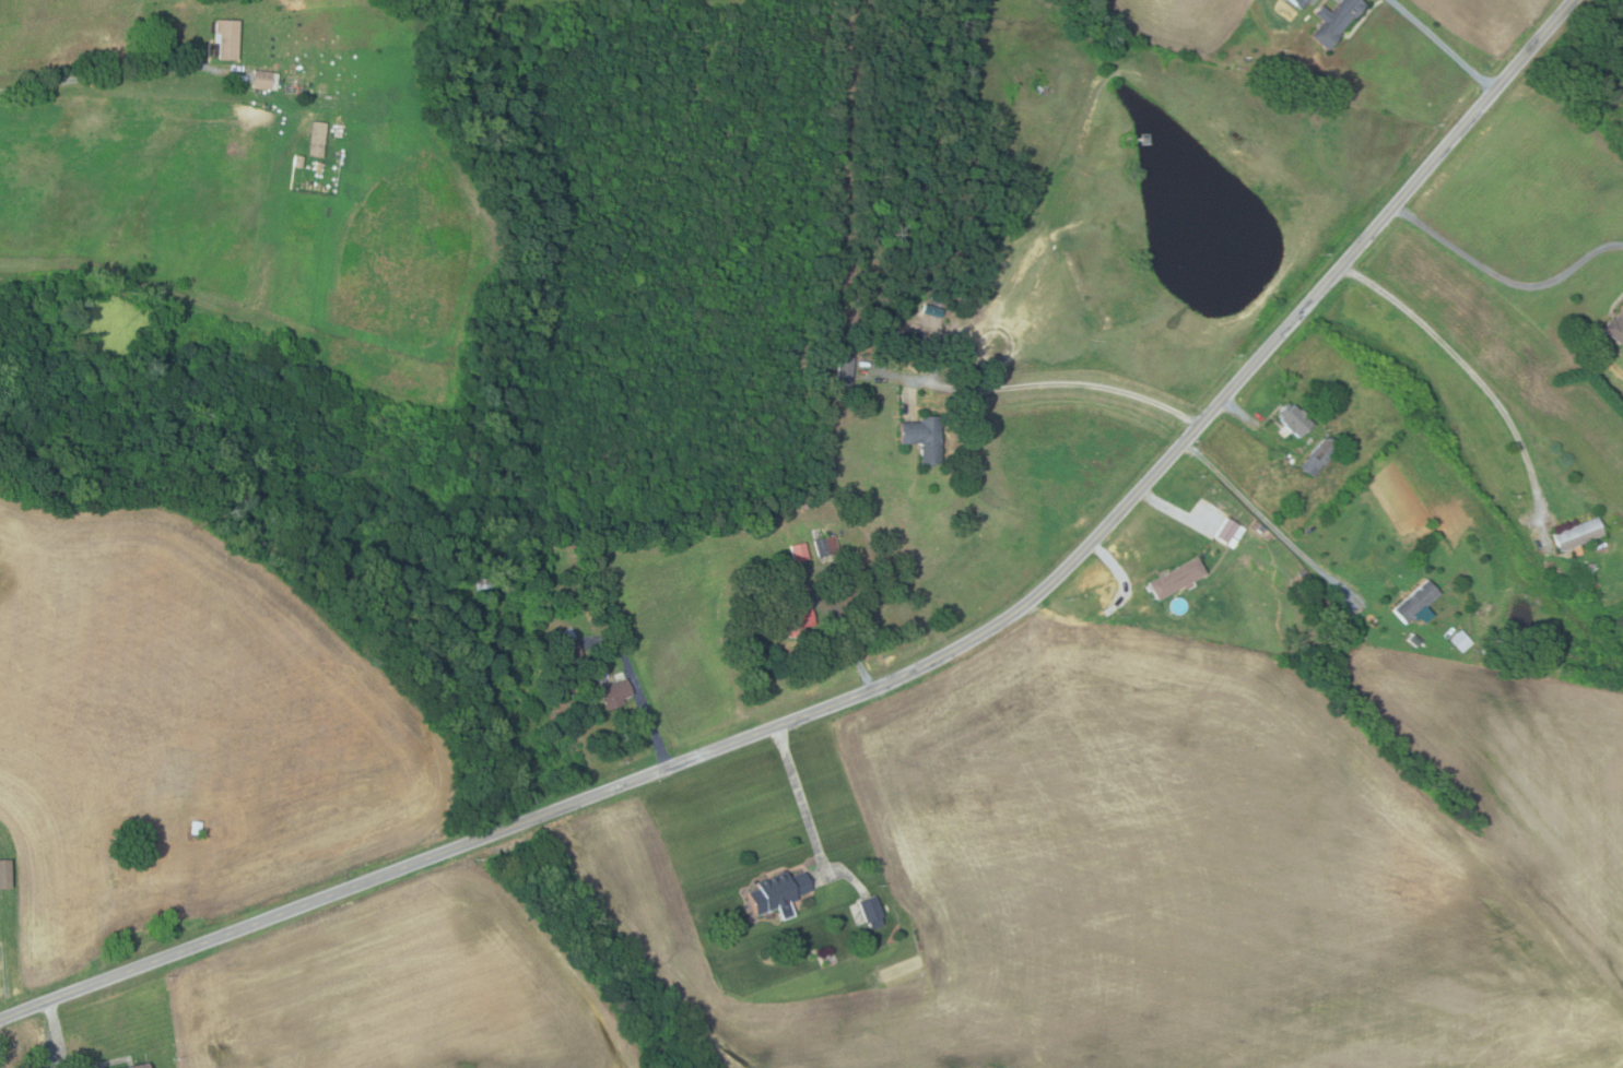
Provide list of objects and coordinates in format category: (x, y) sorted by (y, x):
building: (1296, 2)
crop: (1486, 19)
building: (1332, 21)
crop: (1184, 26)
building: (225, 38)
road: (1444, 46)
road: (115, 74)
building: (259, 80)
building: (293, 85)
building: (321, 90)
building: (315, 139)
building: (295, 162)
building: (316, 166)
road: (1504, 281)
building: (973, 293)
building: (930, 310)
building: (1614, 327)
building: (919, 335)
road: (1467, 367)
building: (843, 373)
road: (1062, 383)
road: (1240, 414)
building: (1293, 419)
building: (921, 438)
building: (1318, 458)
building: (807, 506)
road: (1174, 509)
road: (1272, 524)
building: (1259, 529)
building: (1227, 533)
building: (1265, 534)
building: (1576, 535)
building: (825, 546)
building: (796, 553)
building: (1301, 573)
road: (1120, 574)
building: (1174, 578)
building: (481, 581)
building: (1581, 585)
building: (1414, 602)
building: (790, 621)
road: (843, 636)
building: (1413, 640)
building: (1459, 641)
building: (564, 645)
road: (899, 677)
building: (613, 695)
road: (647, 715)
road: (799, 794)
building: (193, 828)
crop: (1195, 870)
building: (3, 875)
building: (775, 890)
building: (870, 910)
road: (55, 1034)
building: (141, 1066)

